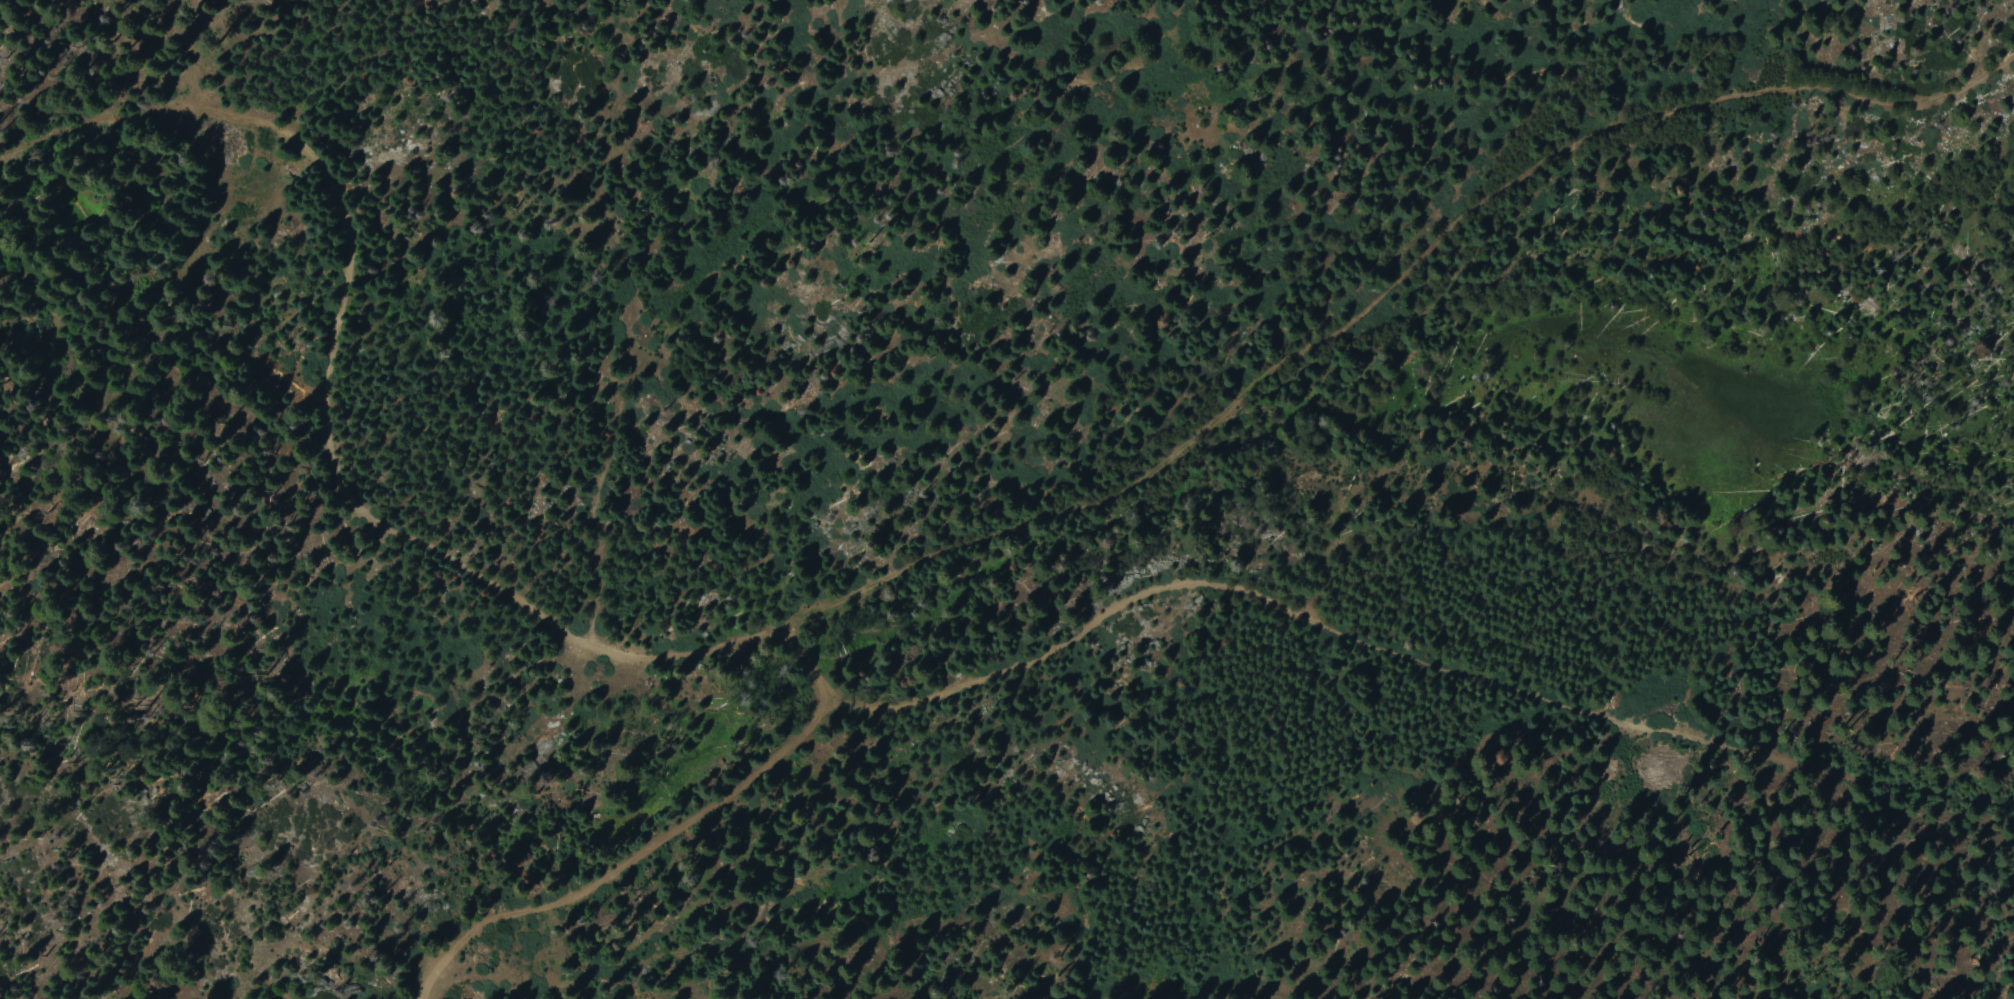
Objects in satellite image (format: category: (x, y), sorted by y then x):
road: (891, 584)

